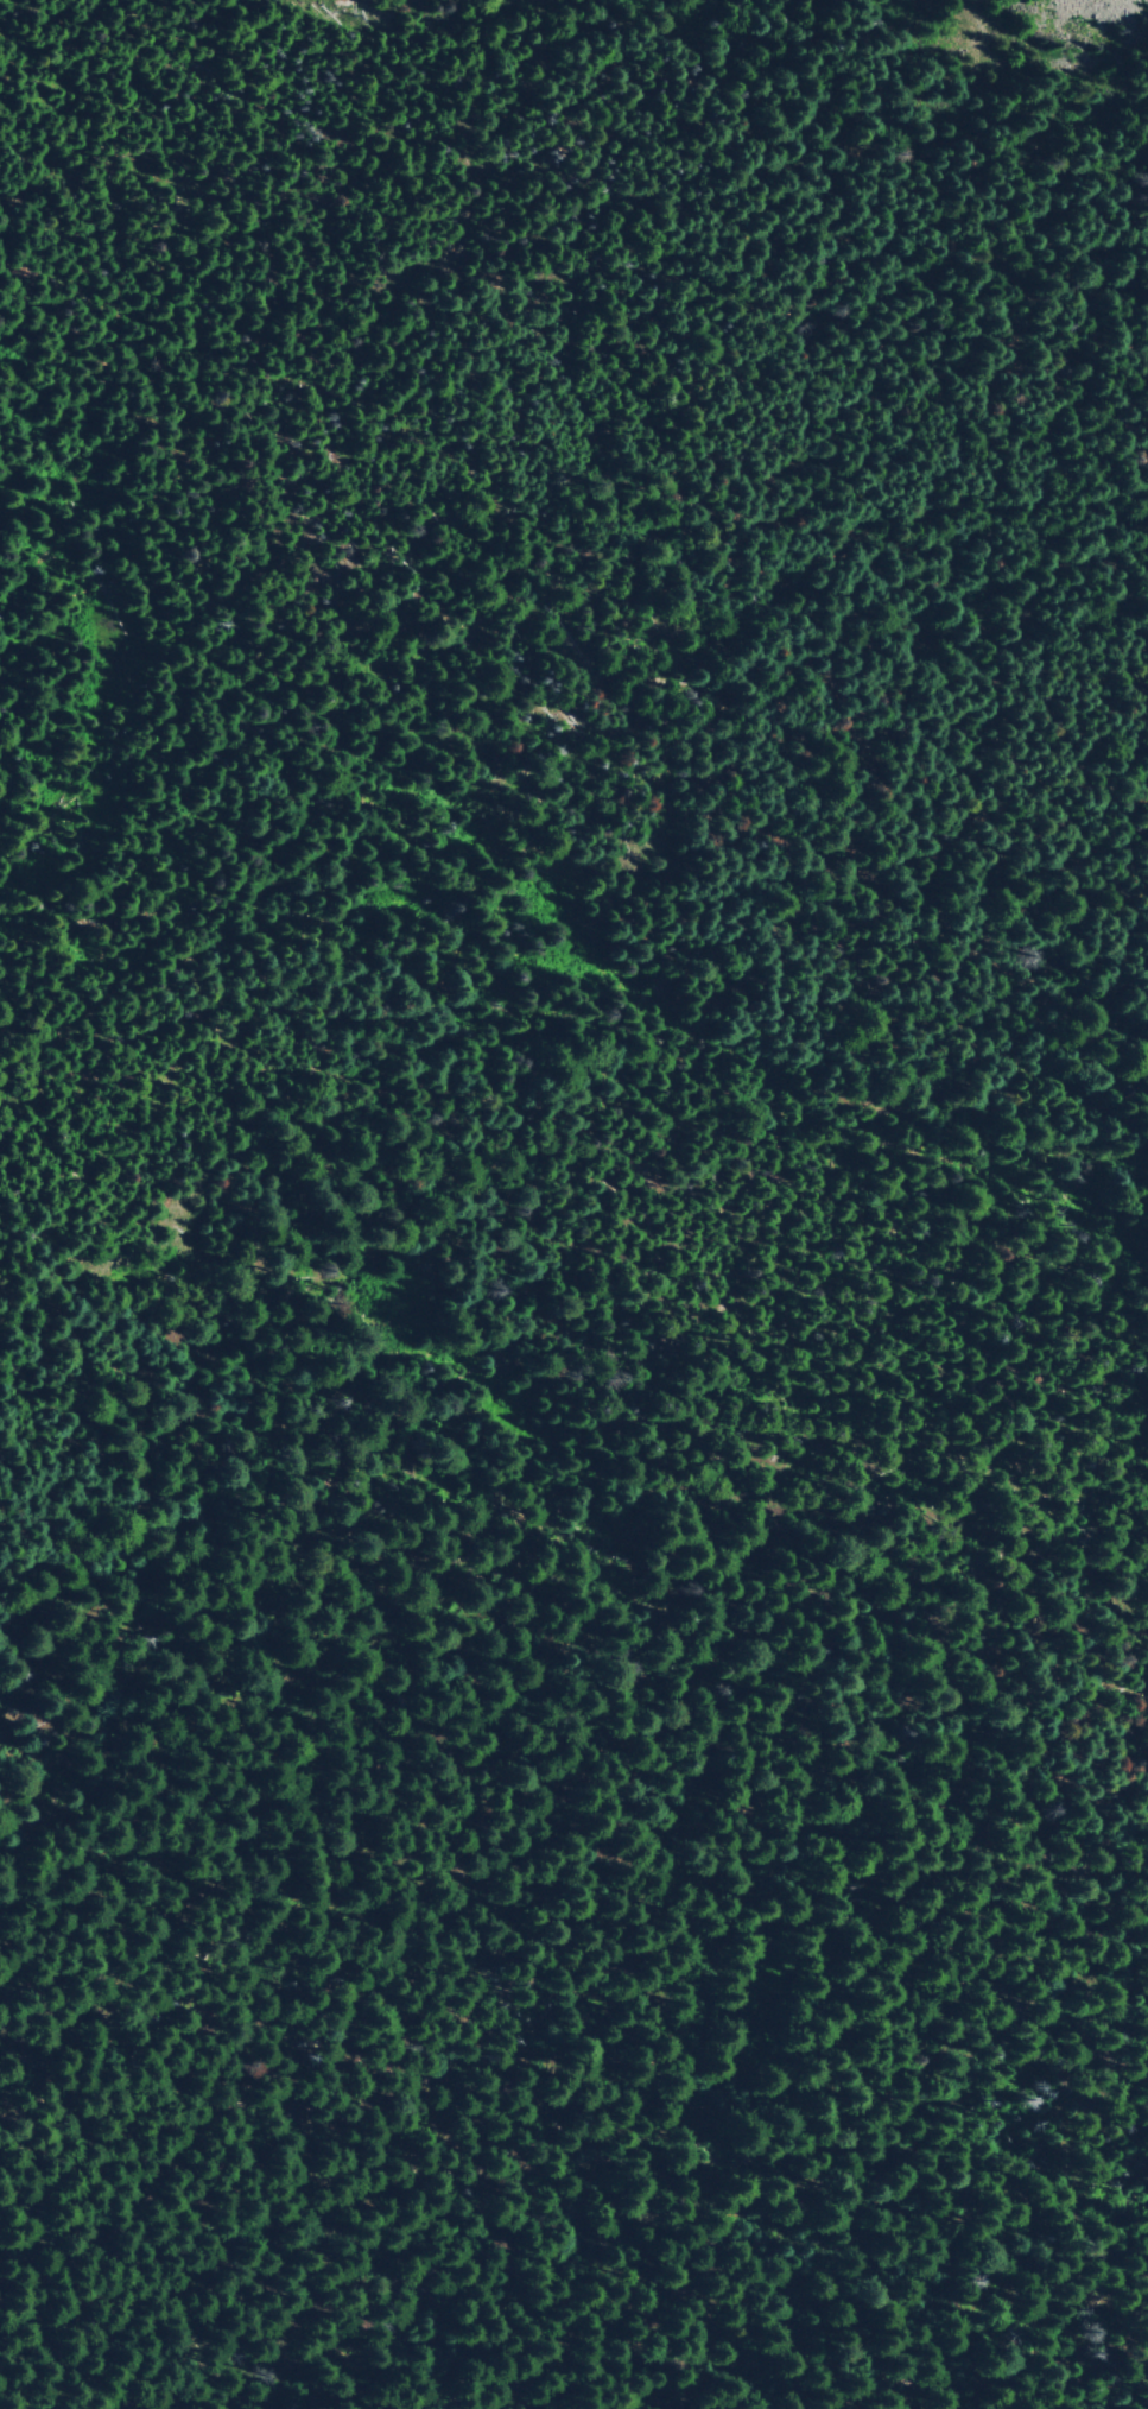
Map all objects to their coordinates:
road: (379, 1405)

